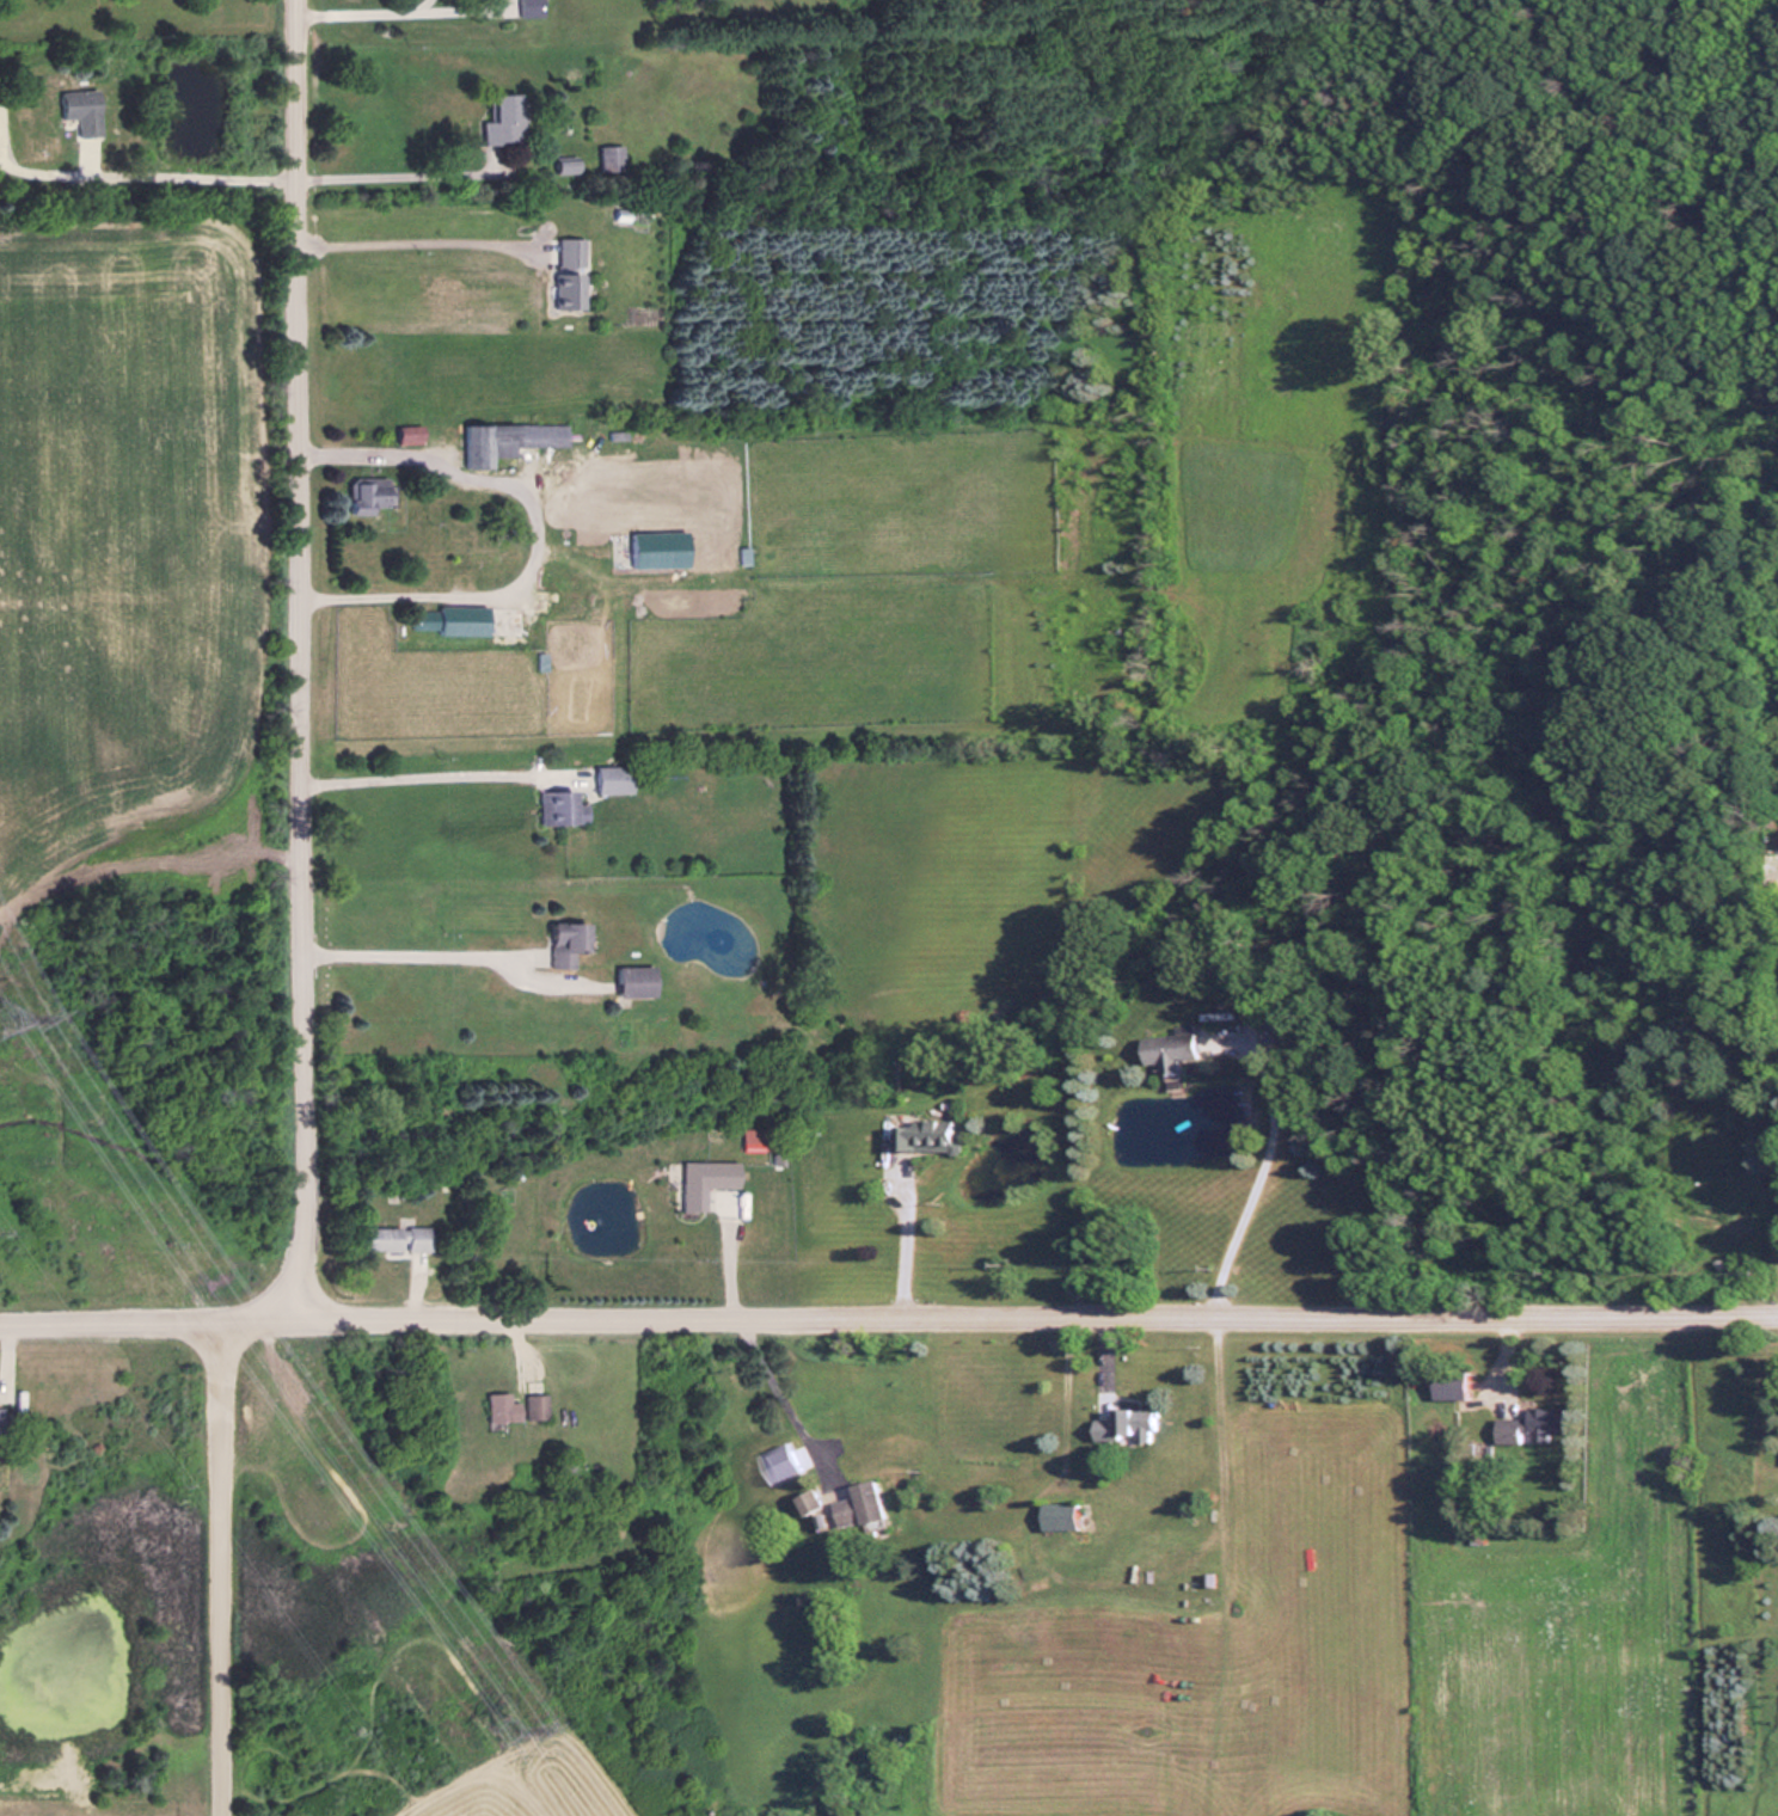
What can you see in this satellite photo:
building: (523, 8)
road: (361, 10)
building: (489, 99)
building: (72, 109)
building: (0, 127)
road: (192, 172)
road: (396, 173)
road: (417, 240)
building: (565, 251)
building: (563, 289)
building: (498, 440)
building: (562, 472)
building: (360, 492)
road: (532, 528)
building: (649, 548)
building: (443, 618)
road: (436, 774)
building: (608, 779)
building: (556, 806)
road: (305, 922)
building: (557, 943)
road: (418, 953)
building: (629, 981)
building: (1163, 1048)
building: (914, 1135)
road: (1246, 1178)
building: (699, 1182)
building: (388, 1238)
road: (888, 1314)
building: (1446, 1385)
road: (1061, 1388)
building: (527, 1406)
building: (491, 1407)
building: (1541, 1424)
building: (1120, 1427)
building: (777, 1460)
building: (802, 1502)
building: (854, 1504)
building: (1054, 1515)
power tower: (493, 1730)

